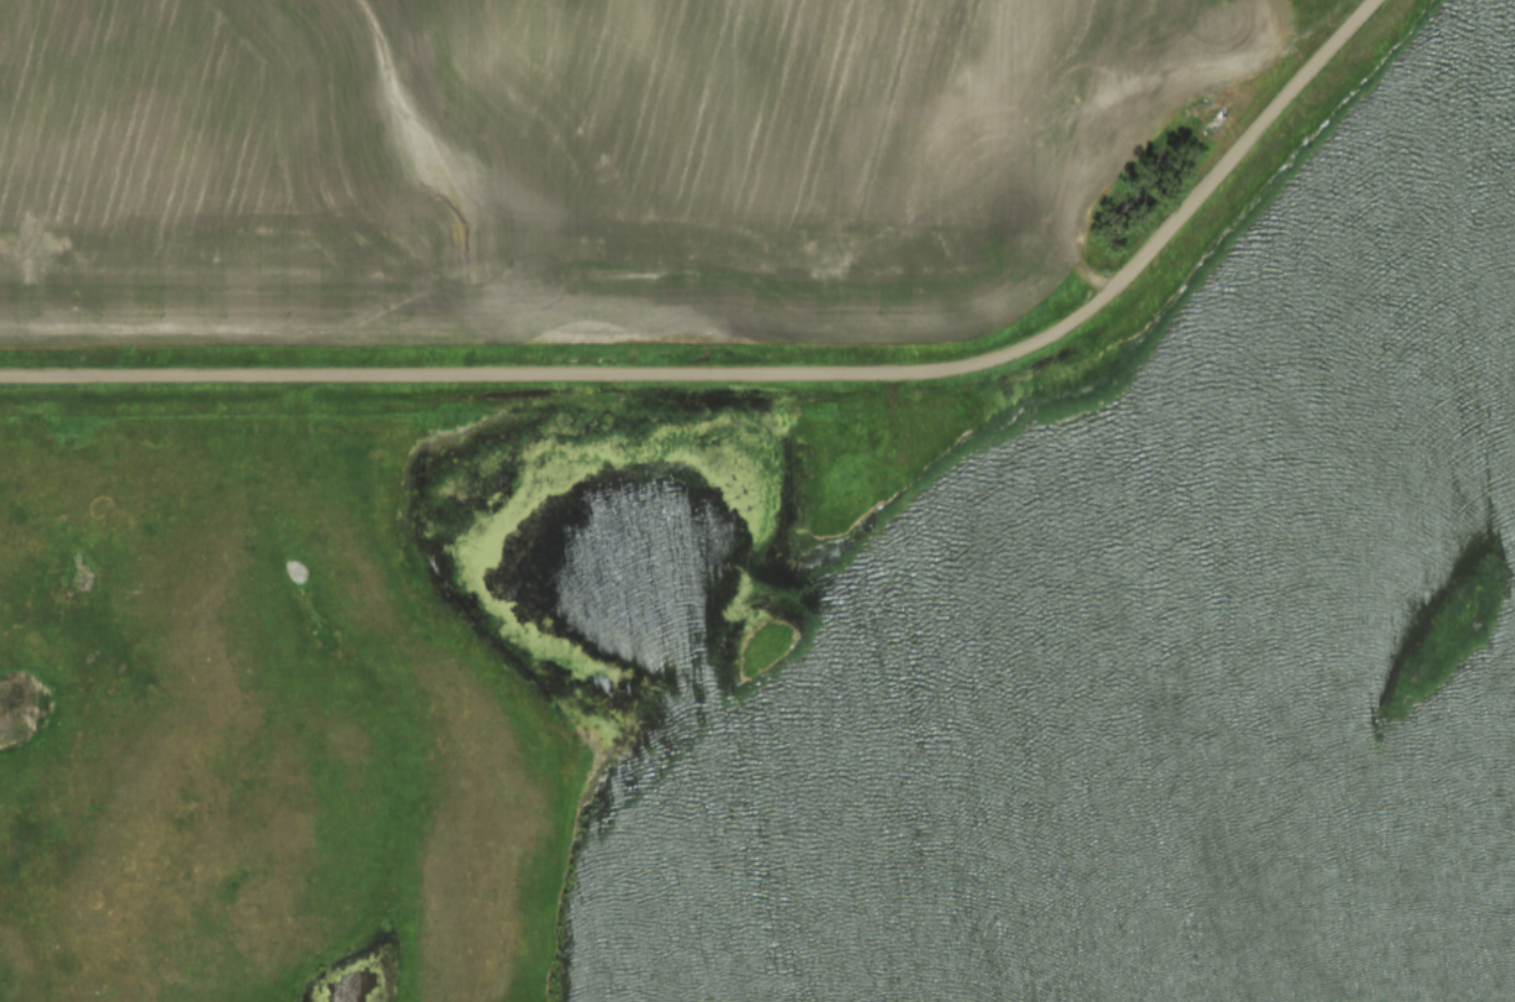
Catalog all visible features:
road: (770, 382)

